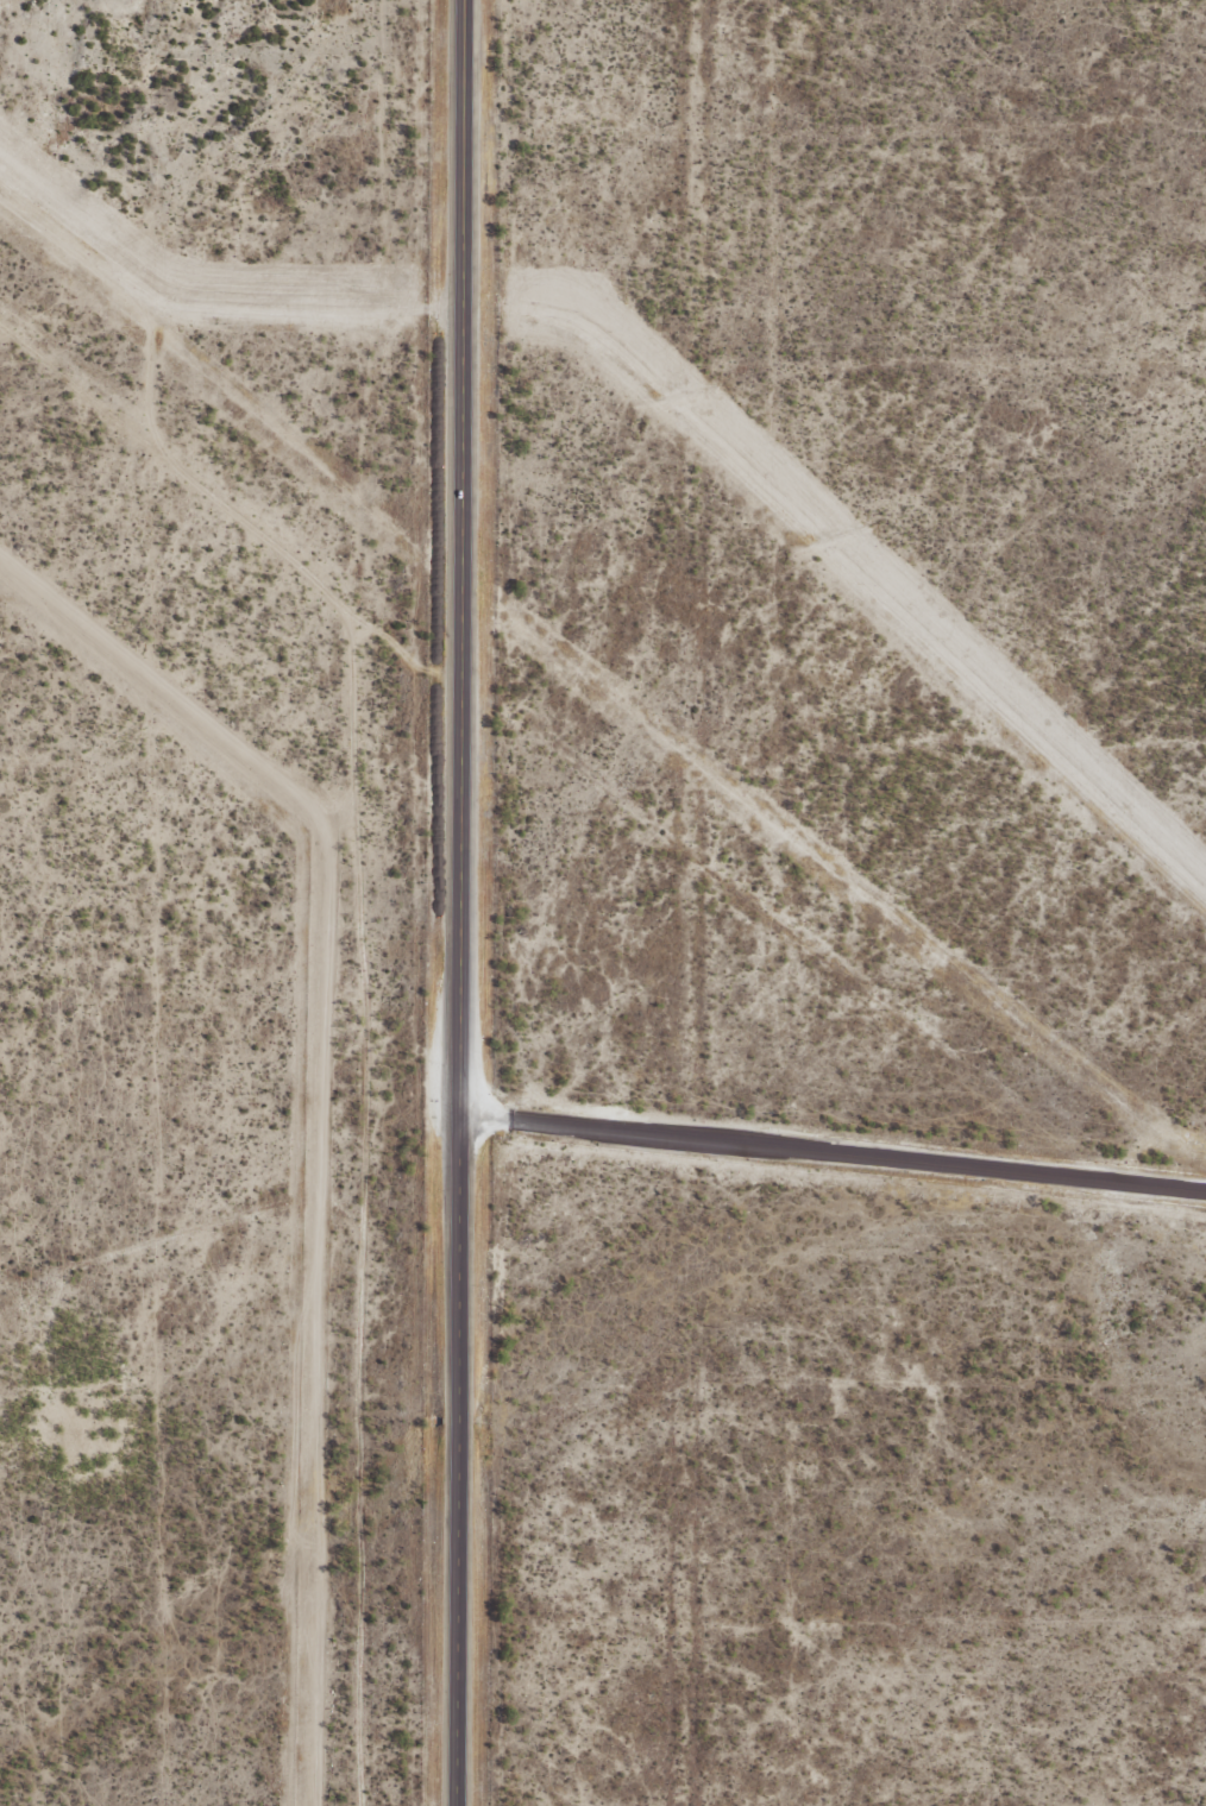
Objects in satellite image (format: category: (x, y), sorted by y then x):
road: (454, 902)
road: (293, 1020)
road: (830, 1151)

